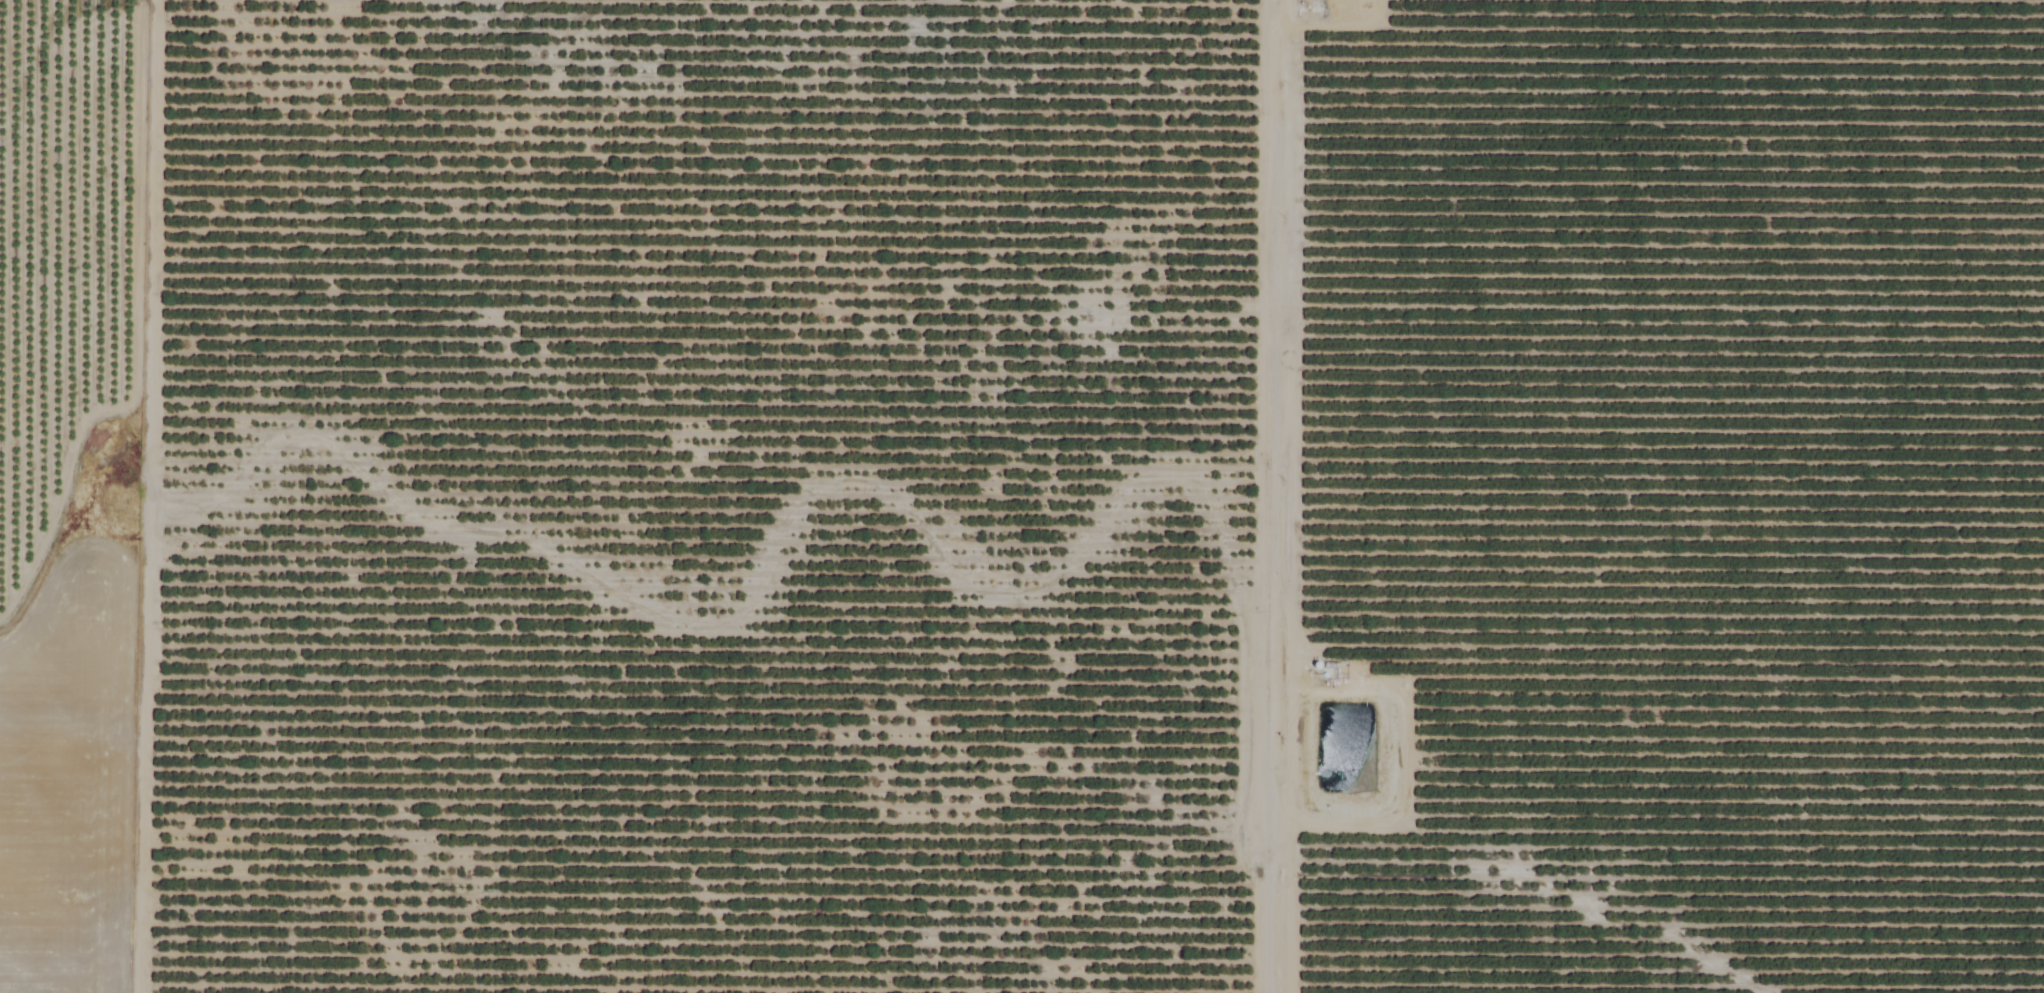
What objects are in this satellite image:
crop: (1022, 496)
road: (1285, 496)
building: (598, 992)

